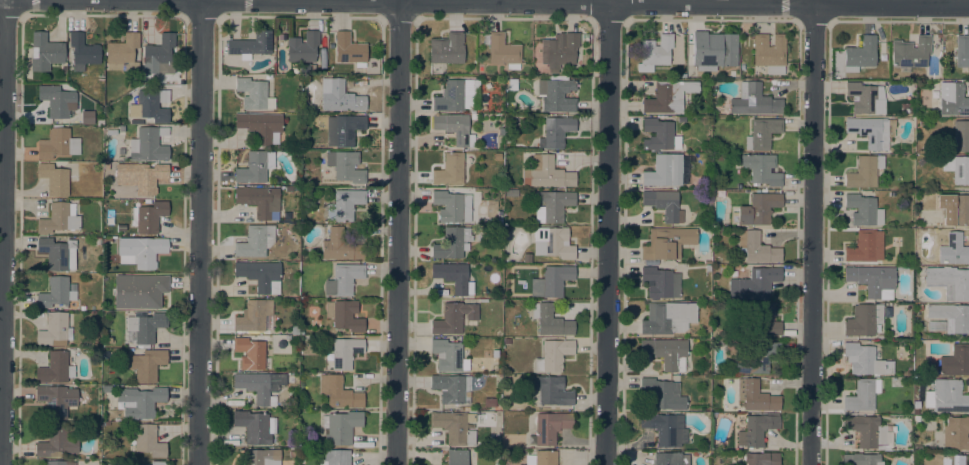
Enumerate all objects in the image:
road: (197, 0)
road: (542, 3)
building: (584, 37)
building: (250, 44)
building: (302, 47)
building: (446, 49)
building: (348, 50)
building: (558, 50)
building: (655, 50)
building: (713, 50)
building: (501, 51)
building: (962, 51)
building: (44, 52)
building: (82, 52)
building: (122, 53)
building: (769, 53)
building: (910, 53)
building: (859, 54)
building: (158, 56)
building: (63, 70)
building: (512, 84)
building: (253, 94)
building: (556, 95)
building: (457, 96)
building: (667, 96)
building: (339, 97)
building: (865, 99)
building: (952, 100)
building: (56, 101)
building: (753, 101)
building: (150, 105)
building: (471, 112)
building: (87, 117)
building: (473, 117)
building: (260, 126)
building: (454, 129)
building: (343, 130)
building: (500, 131)
building: (871, 131)
building: (111, 132)
building: (555, 132)
building: (762, 134)
building: (658, 135)
building: (958, 138)
building: (57, 144)
building: (148, 145)
building: (920, 162)
building: (345, 166)
building: (106, 167)
building: (255, 167)
building: (760, 169)
building: (957, 169)
building: (449, 170)
building: (663, 171)
building: (864, 172)
building: (325, 173)
building: (546, 174)
building: (140, 177)
building: (53, 179)
building: (469, 192)
building: (510, 193)
building: (259, 201)
building: (346, 204)
building: (552, 205)
building: (663, 205)
building: (449, 206)
building: (953, 209)
building: (756, 210)
building: (863, 210)
building: (148, 217)
building: (58, 219)
building: (286, 221)
building: (120, 228)
road: (5, 232)
road: (397, 232)
road: (812, 232)
road: (202, 233)
road: (607, 234)
building: (106, 240)
building: (96, 241)
building: (255, 241)
building: (451, 243)
building: (552, 243)
building: (666, 243)
building: (338, 246)
building: (865, 247)
building: (756, 248)
building: (952, 249)
building: (140, 251)
building: (57, 254)
building: (526, 258)
building: (733, 273)
building: (260, 276)
building: (453, 277)
building: (343, 279)
building: (555, 280)
building: (871, 280)
building: (949, 282)
building: (660, 283)
building: (753, 284)
building: (138, 291)
building: (56, 293)
building: (713, 298)
building: (344, 315)
building: (253, 316)
building: (950, 317)
building: (453, 318)
building: (668, 318)
building: (863, 320)
building: (549, 321)
building: (759, 321)
building: (935, 326)
building: (144, 328)
building: (294, 330)
building: (54, 331)
building: (506, 341)
building: (249, 353)
building: (666, 353)
building: (341, 354)
building: (553, 355)
building: (448, 356)
building: (756, 359)
building: (864, 360)
building: (955, 360)
building: (146, 365)
building: (55, 369)
building: (260, 385)
building: (106, 388)
building: (452, 388)
building: (551, 391)
building: (339, 392)
building: (662, 395)
building: (862, 395)
building: (946, 396)
building: (755, 397)
building: (56, 399)
building: (139, 401)
building: (915, 411)
building: (915, 418)
building: (93, 426)
building: (256, 426)
building: (341, 426)
building: (454, 427)
building: (550, 427)
building: (664, 429)
building: (756, 430)
building: (867, 431)
building: (956, 433)
building: (148, 440)
building: (56, 441)
building: (916, 448)
building: (292, 453)
building: (261, 457)
building: (335, 457)
building: (456, 457)
building: (541, 458)
building: (670, 459)
building: (762, 459)
building: (863, 459)
building: (954, 459)
building: (59, 463)
building: (157, 463)

